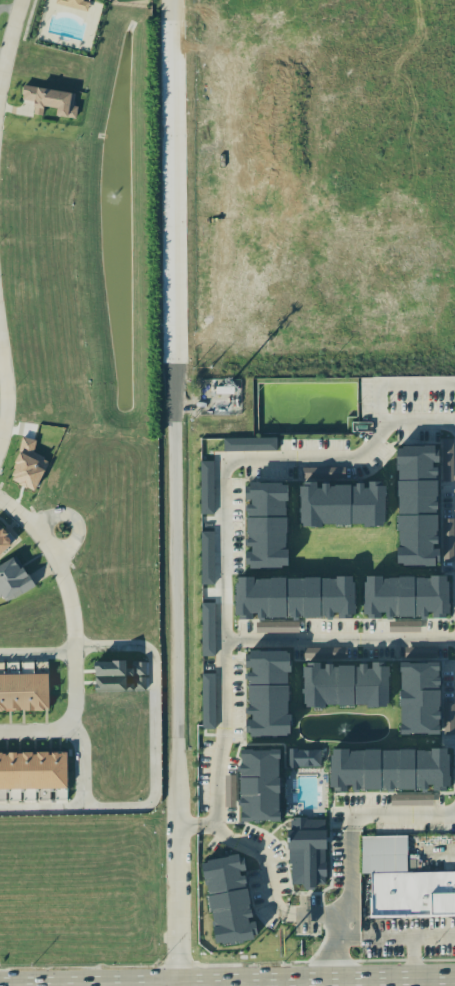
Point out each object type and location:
building: (74, 3)
road: (10, 39)
building: (49, 100)
road: (5, 389)
building: (249, 444)
road: (176, 449)
road: (254, 454)
building: (447, 459)
building: (206, 487)
building: (342, 508)
building: (417, 509)
building: (266, 528)
building: (447, 539)
building: (4, 543)
building: (206, 557)
road: (58, 565)
building: (13, 579)
building: (408, 596)
building: (295, 599)
building: (403, 626)
building: (276, 627)
building: (207, 629)
road: (230, 638)
road: (37, 652)
building: (323, 652)
building: (419, 652)
building: (1, 668)
building: (109, 675)
building: (347, 683)
building: (23, 692)
building: (267, 693)
building: (421, 696)
building: (207, 700)
building: (447, 718)
road: (66, 719)
building: (303, 757)
road: (81, 759)
road: (152, 762)
building: (390, 768)
building: (33, 770)
building: (260, 784)
building: (230, 791)
building: (410, 799)
road: (350, 814)
building: (310, 851)
building: (410, 864)
road: (266, 880)
building: (404, 880)
building: (228, 897)
road: (434, 936)
road: (353, 937)
road: (413, 938)
road: (178, 941)
road: (335, 947)
road: (376, 981)
road: (238, 983)
road: (296, 984)
road: (106, 985)
road: (178, 985)

